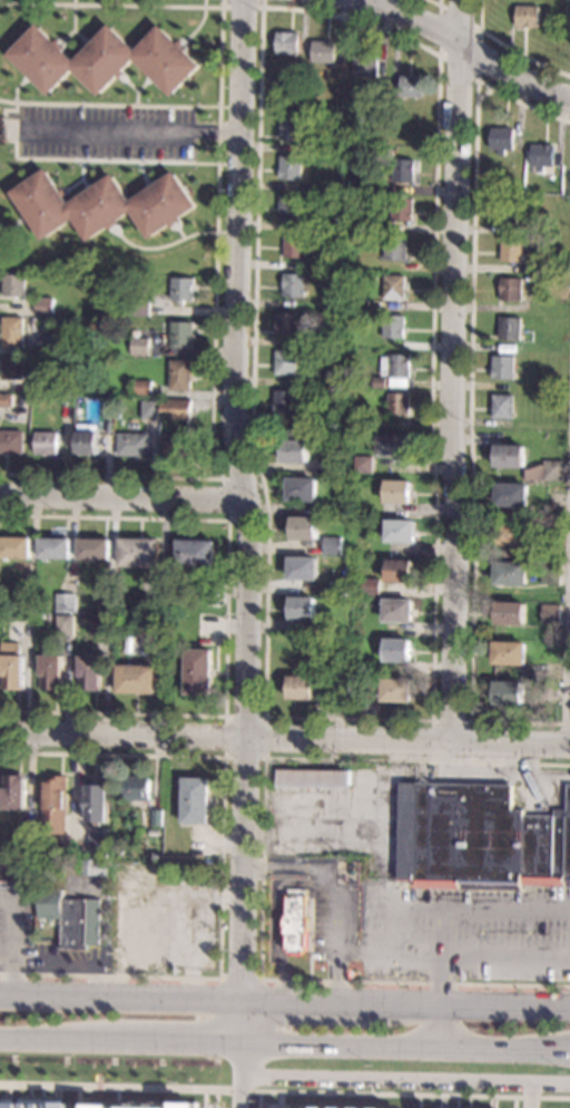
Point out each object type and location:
road: (0, 1)
road: (435, 2)
road: (238, 7)
building: (527, 17)
road: (478, 28)
building: (286, 42)
road: (462, 47)
road: (510, 49)
building: (322, 51)
building: (102, 59)
building: (365, 66)
building: (411, 86)
road: (483, 93)
building: (391, 98)
road: (108, 104)
building: (391, 108)
building: (289, 128)
parking lot: (105, 132)
road: (134, 132)
building: (501, 138)
building: (541, 156)
road: (60, 158)
building: (288, 167)
building: (403, 171)
building: (101, 205)
building: (287, 206)
building: (402, 210)
building: (507, 210)
road: (13, 221)
road: (214, 243)
building: (293, 245)
road: (159, 246)
road: (8, 249)
building: (395, 249)
building: (511, 250)
building: (535, 278)
building: (13, 285)
building: (292, 285)
building: (394, 288)
building: (181, 289)
building: (510, 289)
building: (45, 305)
building: (139, 307)
building: (285, 323)
building: (393, 327)
building: (509, 328)
building: (12, 331)
building: (180, 333)
building: (57, 344)
building: (139, 346)
building: (351, 361)
building: (284, 363)
building: (502, 367)
building: (12, 368)
building: (399, 370)
road: (452, 371)
building: (179, 375)
building: (94, 377)
building: (379, 381)
building: (301, 382)
building: (38, 386)
building: (144, 388)
road: (469, 399)
building: (6, 400)
building: (283, 402)
building: (397, 405)
building: (181, 406)
building: (501, 406)
building: (109, 408)
building: (149, 409)
building: (11, 441)
building: (46, 443)
building: (87, 443)
building: (132, 444)
building: (175, 445)
building: (295, 445)
building: (392, 445)
building: (508, 455)
building: (362, 464)
building: (327, 466)
building: (544, 470)
building: (301, 489)
building: (396, 492)
building: (511, 494)
road: (124, 496)
building: (360, 511)
building: (303, 527)
building: (399, 531)
building: (511, 533)
building: (331, 546)
building: (16, 547)
building: (55, 548)
building: (94, 548)
building: (194, 552)
building: (504, 552)
building: (139, 553)
road: (248, 553)
building: (302, 567)
building: (399, 571)
building: (510, 573)
building: (549, 575)
building: (370, 586)
building: (27, 602)
building: (65, 602)
building: (107, 603)
building: (302, 608)
building: (144, 609)
building: (397, 610)
building: (509, 613)
building: (550, 613)
building: (6, 615)
road: (225, 615)
building: (60, 623)
building: (100, 626)
building: (301, 648)
building: (138, 649)
building: (395, 650)
building: (508, 652)
building: (11, 664)
building: (333, 664)
building: (197, 671)
building: (51, 672)
building: (91, 673)
building: (136, 679)
road: (265, 681)
building: (368, 687)
building: (299, 688)
building: (395, 689)
building: (507, 692)
road: (569, 708)
road: (469, 721)
road: (122, 735)
road: (407, 741)
road: (223, 757)
building: (313, 778)
building: (136, 789)
building: (13, 793)
building: (376, 794)
building: (97, 800)
building: (196, 800)
building: (53, 805)
building: (157, 817)
building: (26, 832)
building: (154, 833)
building: (478, 838)
building: (99, 842)
building: (118, 849)
road: (220, 865)
building: (95, 866)
building: (12, 868)
road: (262, 871)
road: (336, 887)
road: (403, 908)
road: (459, 910)
road: (117, 911)
road: (275, 914)
building: (70, 917)
building: (295, 921)
road: (189, 922)
parking lot: (18, 930)
parking lot: (463, 931)
building: (142, 936)
road: (13, 942)
building: (101, 952)
road: (466, 953)
road: (56, 969)
road: (239, 979)
road: (284, 1001)
road: (442, 1028)
road: (285, 1044)
road: (383, 1081)
road: (550, 1085)
road: (108, 1086)
road: (237, 1090)
road: (405, 1094)
road: (530, 1096)
road: (77, 1097)
road: (215, 1098)
road: (417, 1101)
building: (33, 1102)
building: (101, 1106)
building: (177, 1106)
building: (307, 1107)

